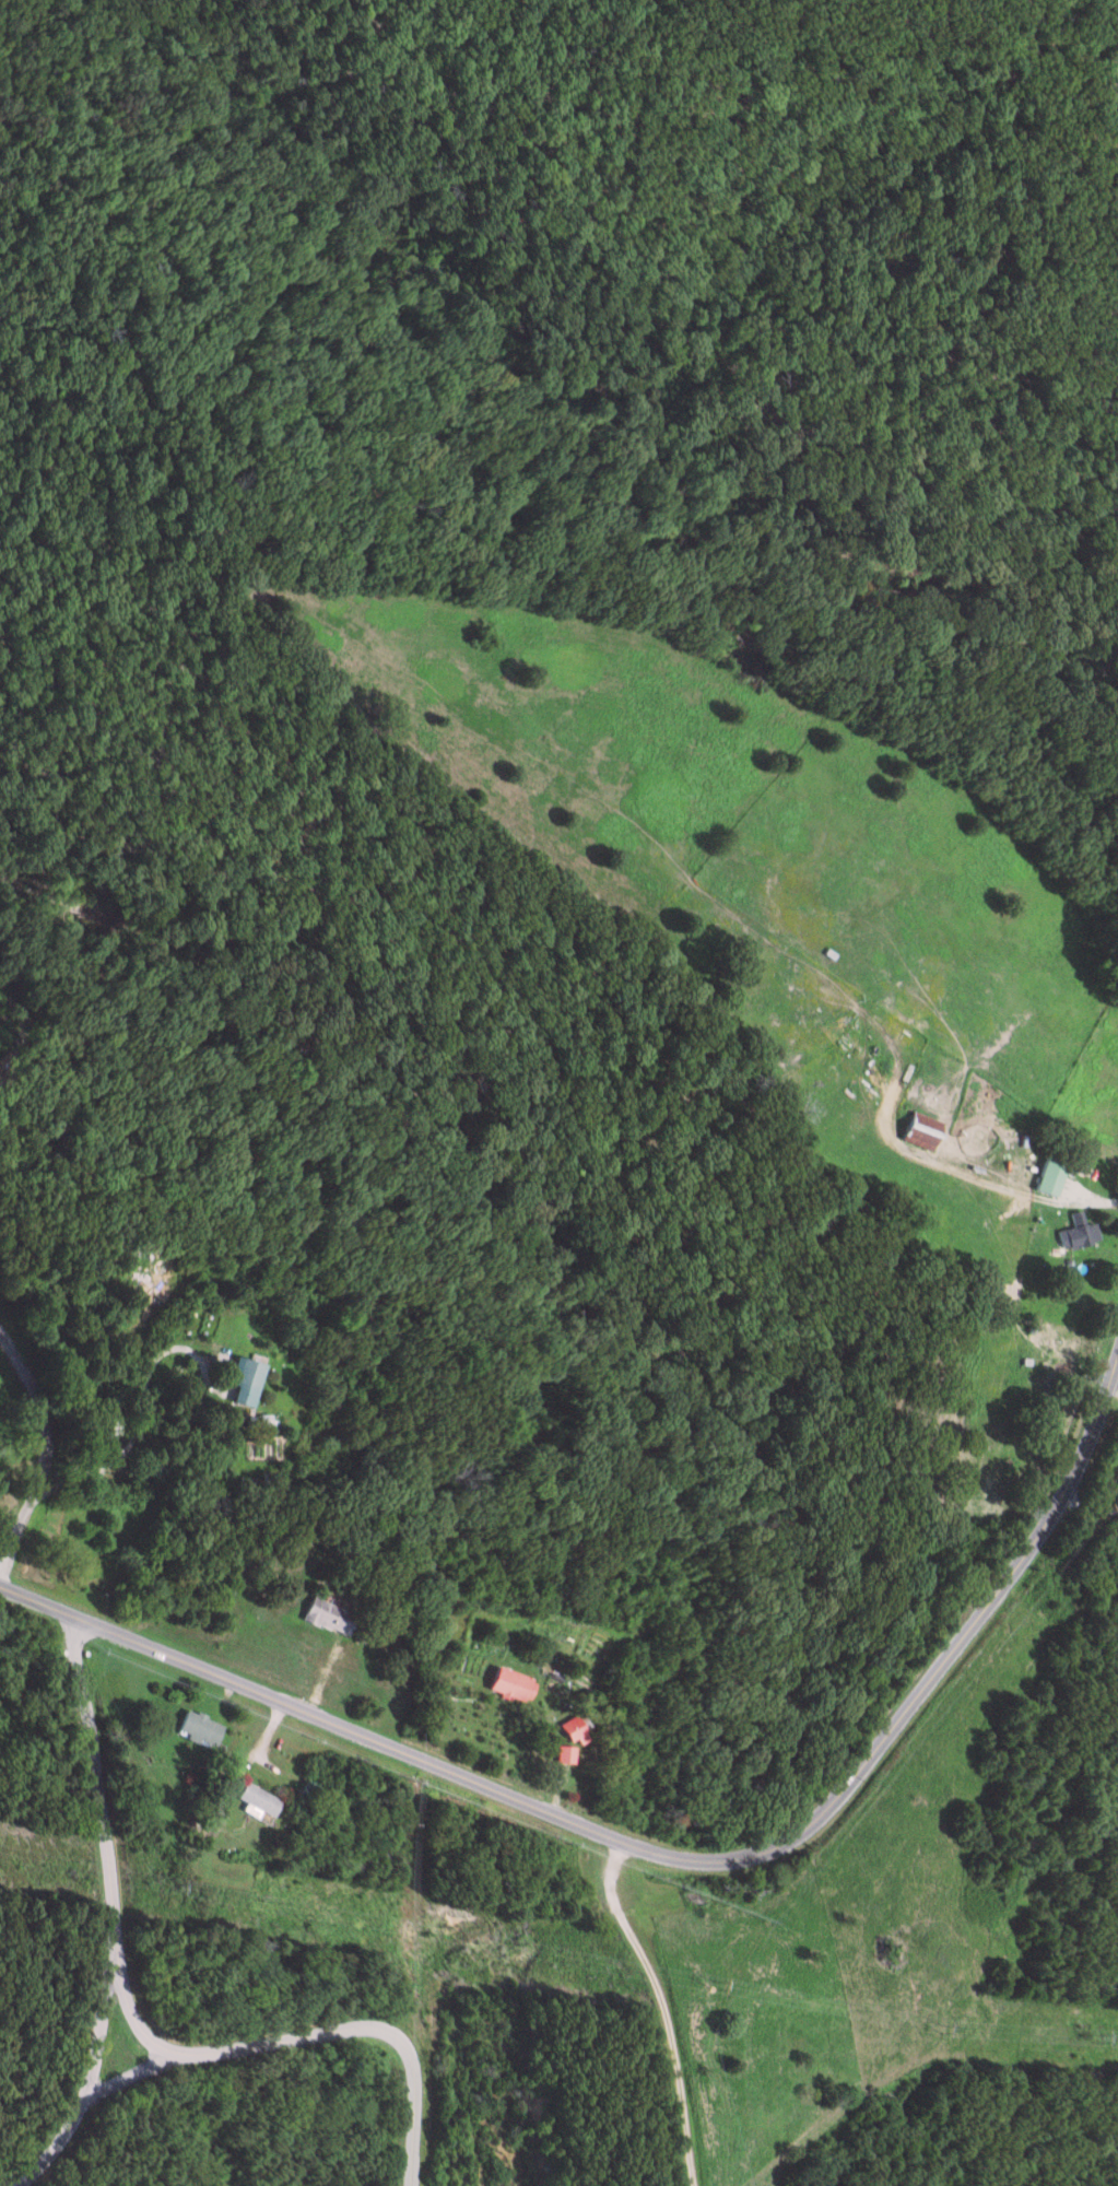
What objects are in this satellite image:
building: (918, 1131)
building: (1046, 1179)
road: (1003, 1190)
building: (1074, 1233)
building: (251, 1379)
road: (1109, 1394)
road: (134, 1437)
road: (42, 1448)
road: (1085, 1509)
road: (36, 1603)
building: (336, 1617)
building: (519, 1685)
building: (201, 1729)
building: (578, 1730)
road: (254, 1748)
building: (568, 1754)
building: (262, 1799)
road: (708, 1860)
power tower: (189, 1891)
power tower: (717, 1988)
road: (658, 2009)
power tower: (942, 2031)
power tower: (1097, 2041)
road: (138, 2044)
road: (81, 2083)
road: (120, 2087)

